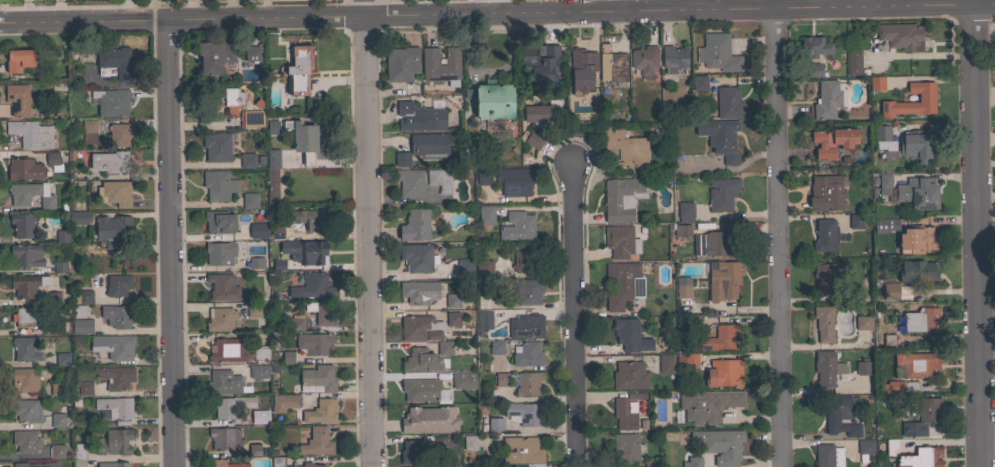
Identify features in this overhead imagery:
road: (626, 5)
road: (497, 11)
building: (901, 36)
building: (814, 47)
building: (252, 53)
building: (718, 53)
building: (213, 56)
building: (583, 57)
building: (427, 59)
building: (644, 59)
building: (674, 59)
building: (451, 60)
building: (19, 61)
building: (853, 62)
building: (114, 63)
building: (401, 63)
building: (540, 63)
building: (612, 65)
building: (814, 70)
road: (488, 71)
building: (299, 72)
building: (699, 83)
building: (877, 83)
building: (926, 97)
building: (17, 99)
building: (227, 99)
building: (495, 100)
building: (826, 100)
building: (112, 102)
building: (727, 103)
building: (542, 114)
building: (423, 117)
building: (251, 118)
building: (89, 131)
building: (31, 133)
building: (119, 135)
building: (881, 136)
building: (307, 139)
building: (535, 139)
building: (720, 139)
building: (832, 141)
road: (985, 141)
building: (429, 144)
building: (218, 146)
building: (624, 146)
building: (915, 146)
building: (402, 158)
building: (247, 160)
building: (53, 161)
building: (110, 161)
road: (985, 165)
building: (24, 169)
building: (272, 176)
building: (484, 176)
building: (440, 179)
building: (514, 181)
building: (410, 182)
building: (219, 184)
building: (883, 185)
building: (115, 193)
building: (722, 193)
building: (825, 193)
building: (918, 193)
building: (30, 194)
building: (621, 198)
building: (250, 200)
building: (685, 212)
building: (486, 216)
building: (79, 217)
building: (305, 217)
building: (220, 221)
building: (856, 221)
building: (22, 225)
building: (415, 225)
building: (885, 225)
building: (517, 226)
building: (680, 229)
building: (113, 230)
building: (257, 230)
building: (276, 232)
road: (365, 233)
building: (825, 235)
building: (62, 236)
road: (977, 236)
road: (780, 237)
building: (916, 240)
road: (167, 241)
building: (621, 241)
building: (712, 245)
building: (305, 251)
building: (219, 253)
building: (26, 256)
building: (417, 257)
building: (521, 259)
building: (257, 262)
building: (279, 264)
building: (465, 266)
building: (60, 267)
building: (485, 268)
building: (917, 272)
building: (726, 277)
building: (827, 278)
building: (620, 284)
building: (27, 285)
building: (118, 285)
building: (315, 286)
building: (222, 287)
building: (486, 287)
building: (683, 288)
building: (419, 291)
building: (528, 291)
building: (890, 291)
building: (856, 295)
building: (82, 296)
building: (52, 298)
building: (452, 300)
building: (254, 310)
building: (78, 311)
building: (322, 312)
building: (29, 316)
building: (117, 316)
road: (572, 316)
building: (456, 318)
building: (688, 318)
building: (221, 319)
building: (484, 320)
building: (921, 320)
building: (863, 322)
building: (294, 323)
building: (824, 323)
building: (81, 326)
building: (526, 327)
building: (420, 328)
building: (630, 335)
building: (722, 338)
building: (889, 339)
building: (314, 343)
building: (113, 346)
building: (497, 347)
building: (26, 348)
building: (444, 348)
building: (228, 350)
building: (261, 353)
building: (528, 354)
building: (288, 357)
building: (62, 359)
building: (687, 359)
building: (421, 361)
building: (666, 364)
building: (917, 364)
building: (827, 368)
building: (862, 368)
building: (258, 371)
building: (724, 373)
building: (630, 375)
building: (116, 377)
building: (318, 377)
building: (501, 379)
building: (24, 380)
building: (463, 380)
building: (223, 382)
building: (528, 383)
building: (907, 386)
building: (84, 388)
building: (58, 389)
building: (421, 390)
park: (993, 397)
building: (284, 402)
building: (708, 404)
building: (230, 405)
building: (627, 407)
building: (116, 408)
building: (26, 410)
building: (322, 411)
building: (526, 413)
building: (927, 415)
building: (839, 416)
building: (254, 417)
building: (59, 420)
building: (430, 420)
building: (495, 424)
building: (222, 437)
building: (25, 441)
building: (317, 441)
building: (114, 442)
building: (470, 442)
building: (444, 445)
building: (721, 445)
building: (890, 446)
building: (627, 448)
building: (865, 449)
building: (254, 450)
building: (57, 451)
building: (410, 452)
building: (524, 452)
building: (79, 455)
building: (828, 456)
building: (926, 457)
building: (278, 462)
building: (693, 462)
building: (651, 463)
building: (35, 464)
building: (113, 464)
building: (227, 464)
building: (311, 465)
building: (455, 466)
building: (538, 466)

